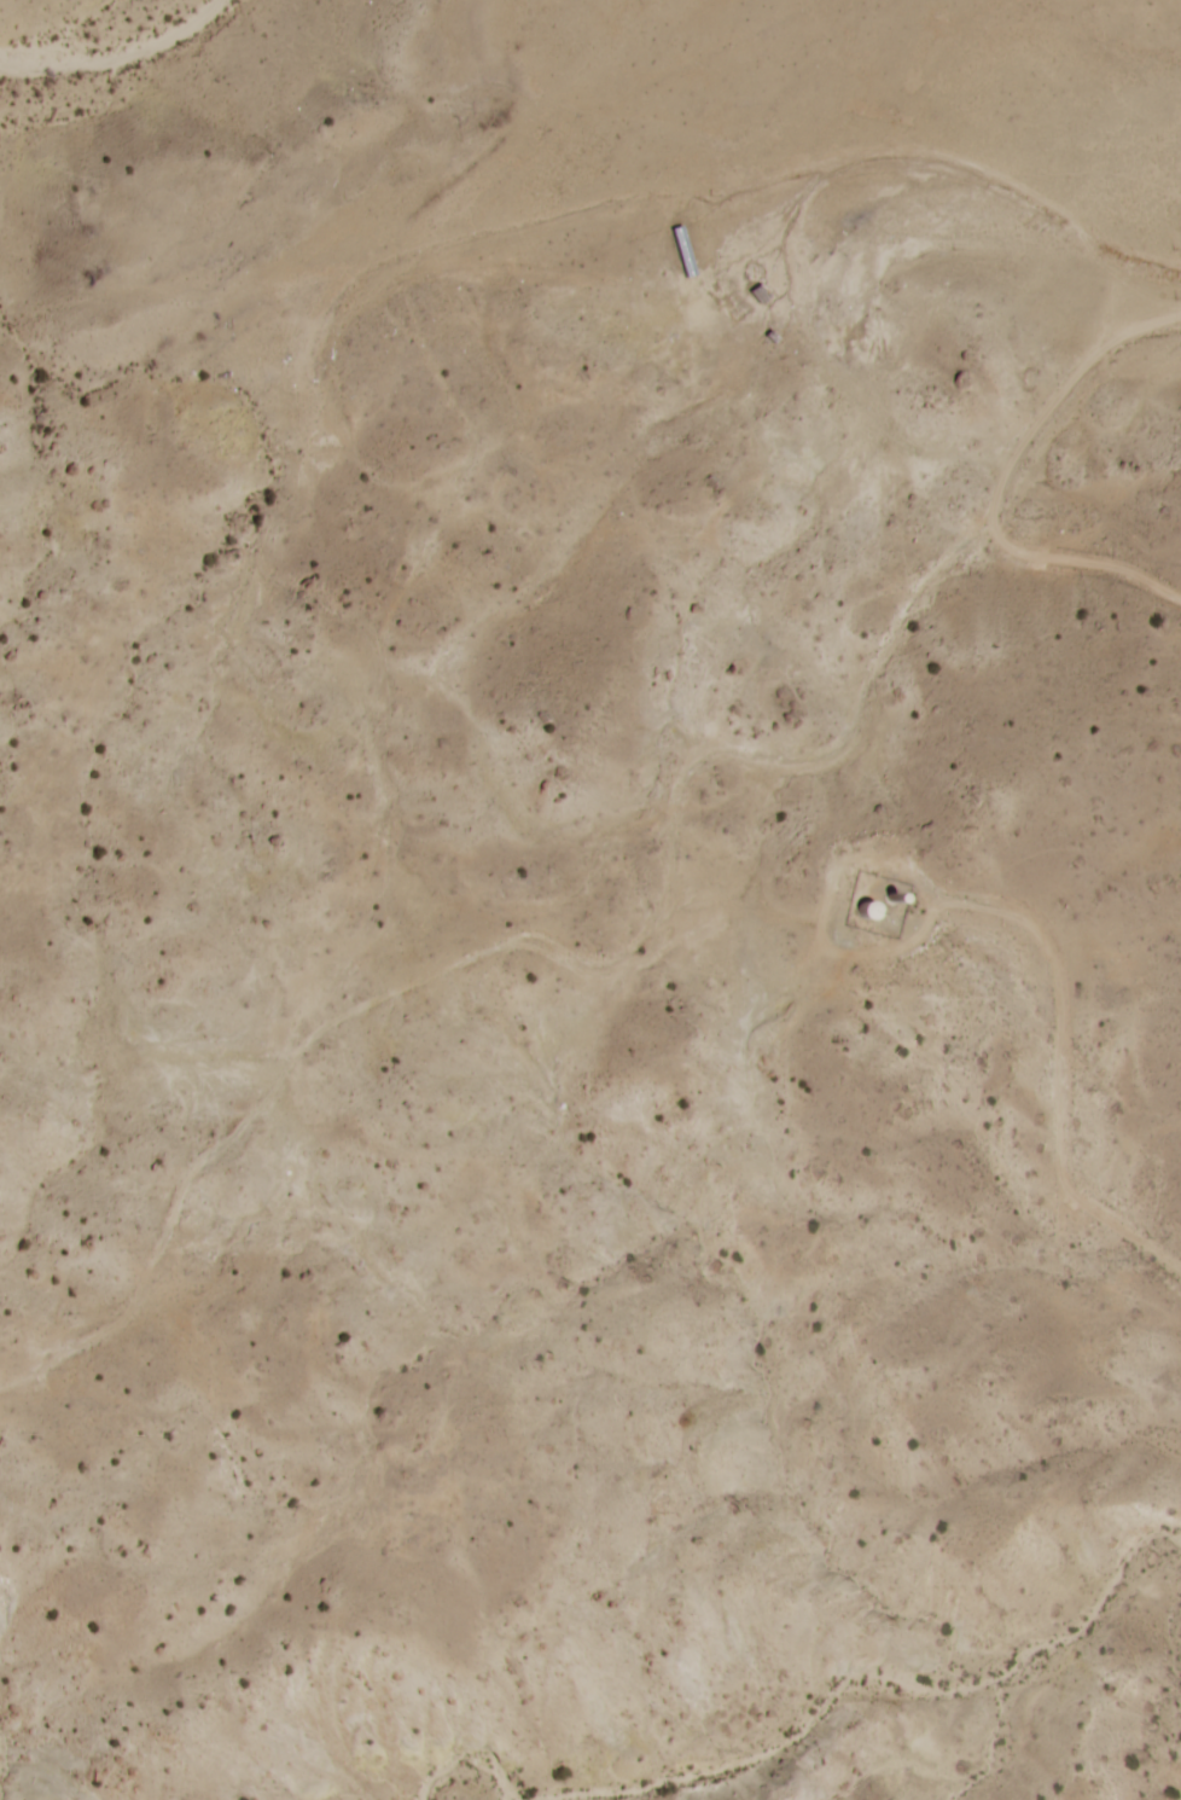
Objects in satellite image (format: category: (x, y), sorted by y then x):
building: (680, 250)
road: (598, 290)
road: (1072, 570)
road: (648, 925)
road: (1064, 1059)

